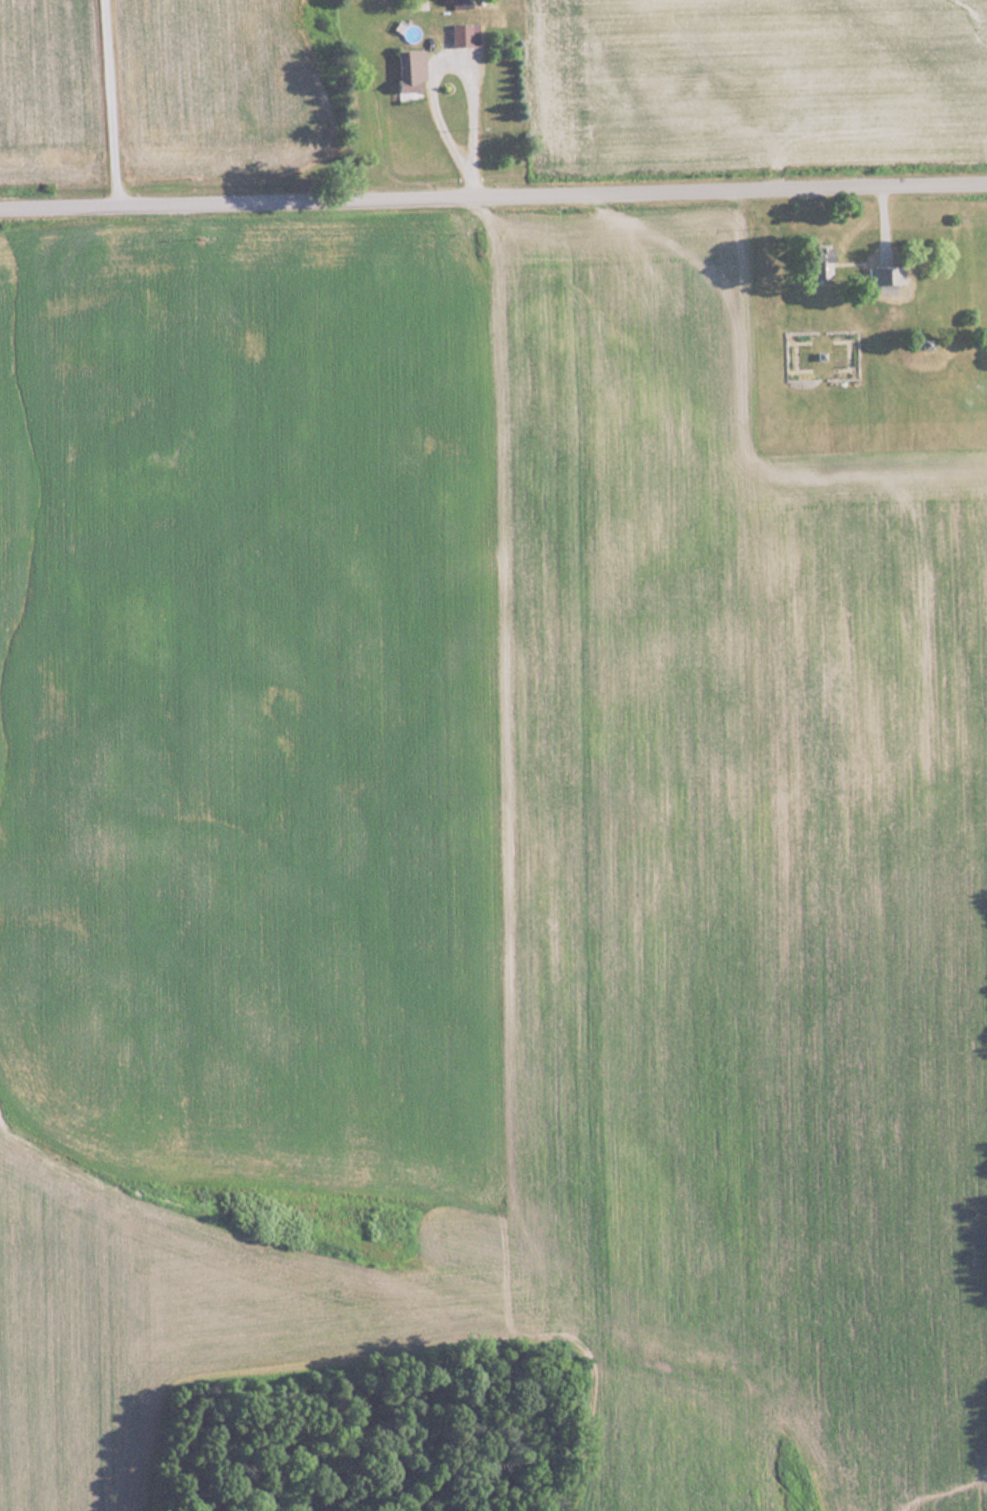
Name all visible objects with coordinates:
building: (461, 34)
road: (463, 56)
building: (407, 70)
road: (111, 104)
road: (493, 199)
building: (813, 261)
building: (882, 275)

